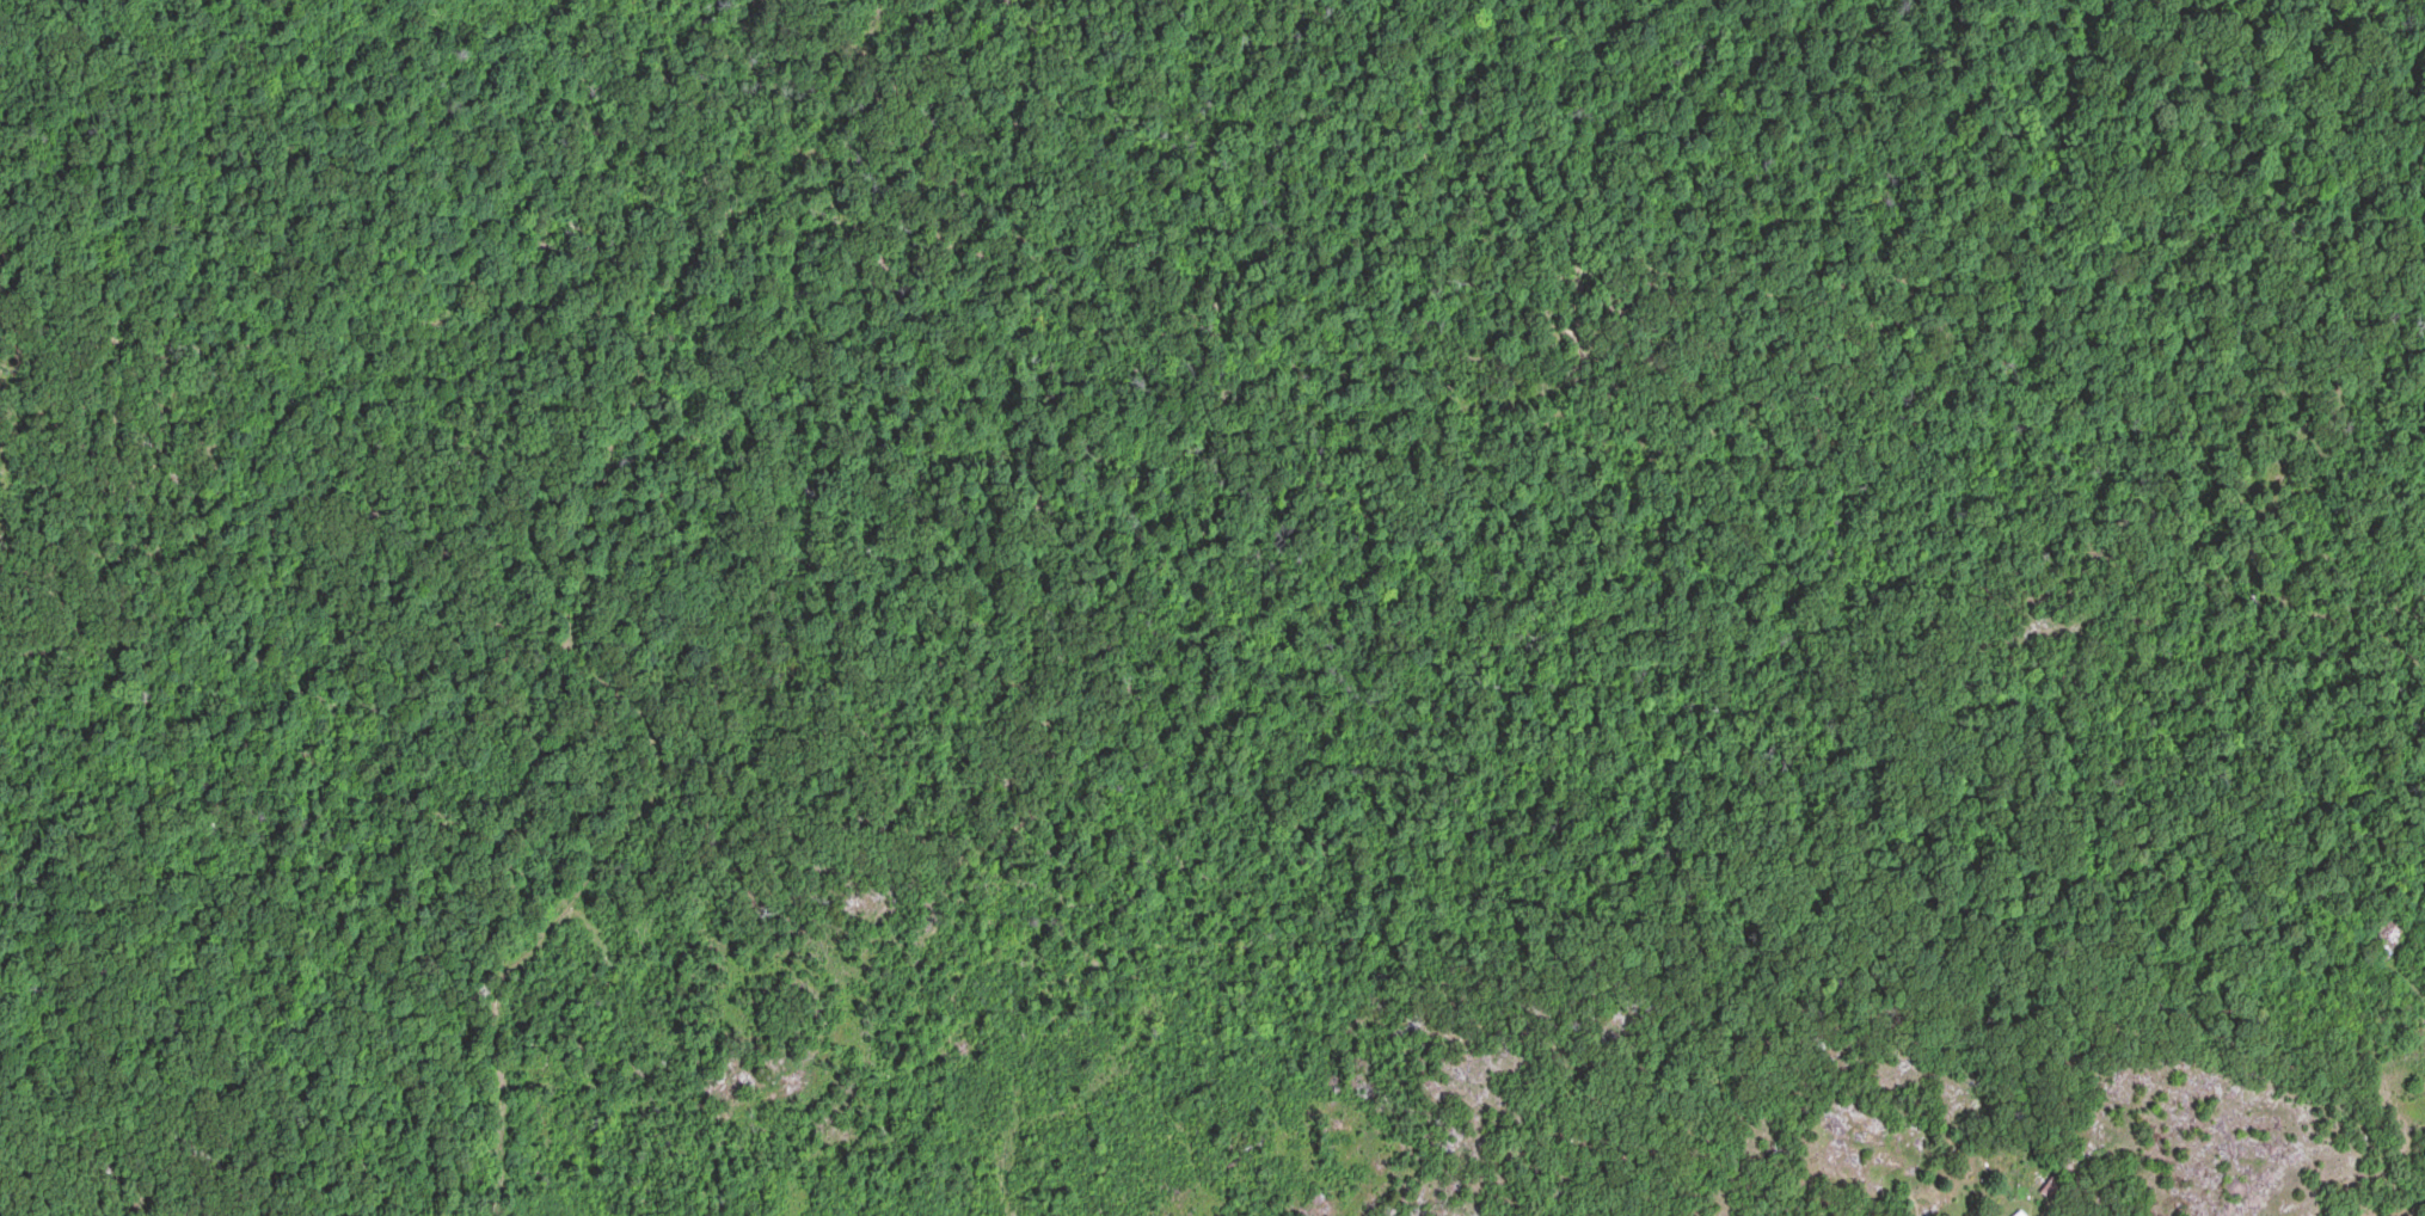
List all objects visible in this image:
building: (2018, 1214)

